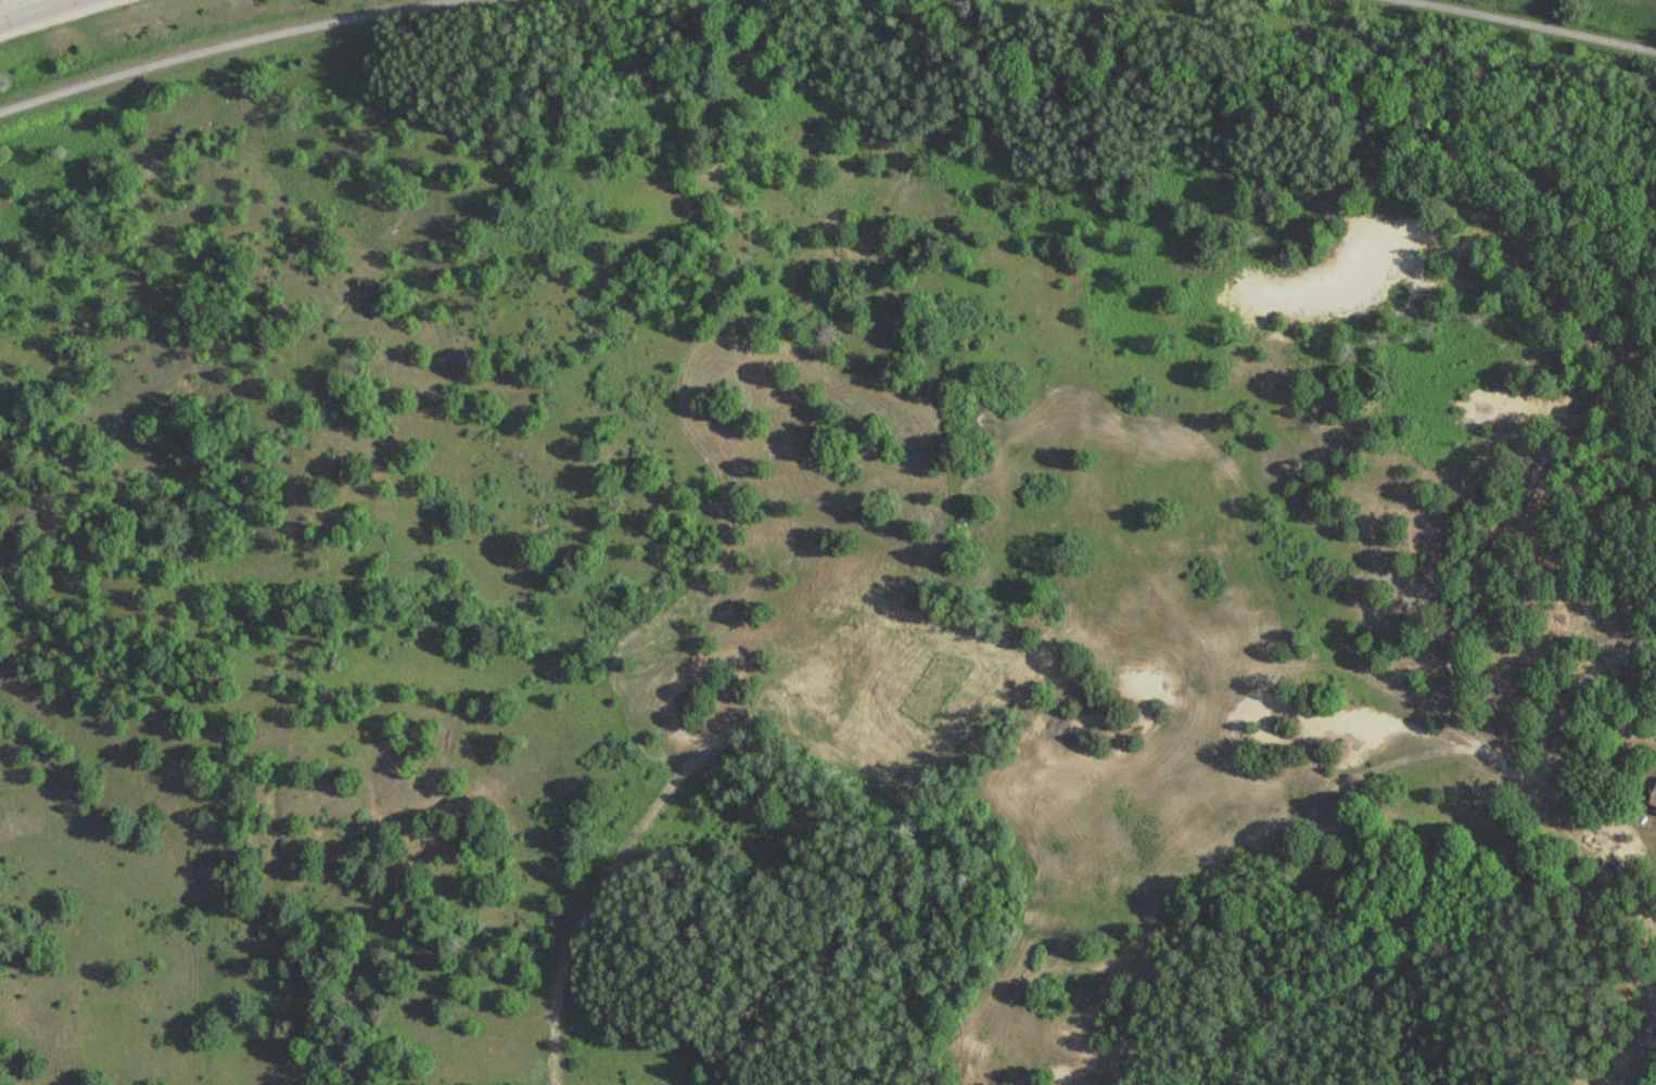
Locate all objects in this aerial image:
road: (35, 10)
road: (1528, 23)
road: (219, 47)
building: (1655, 805)

